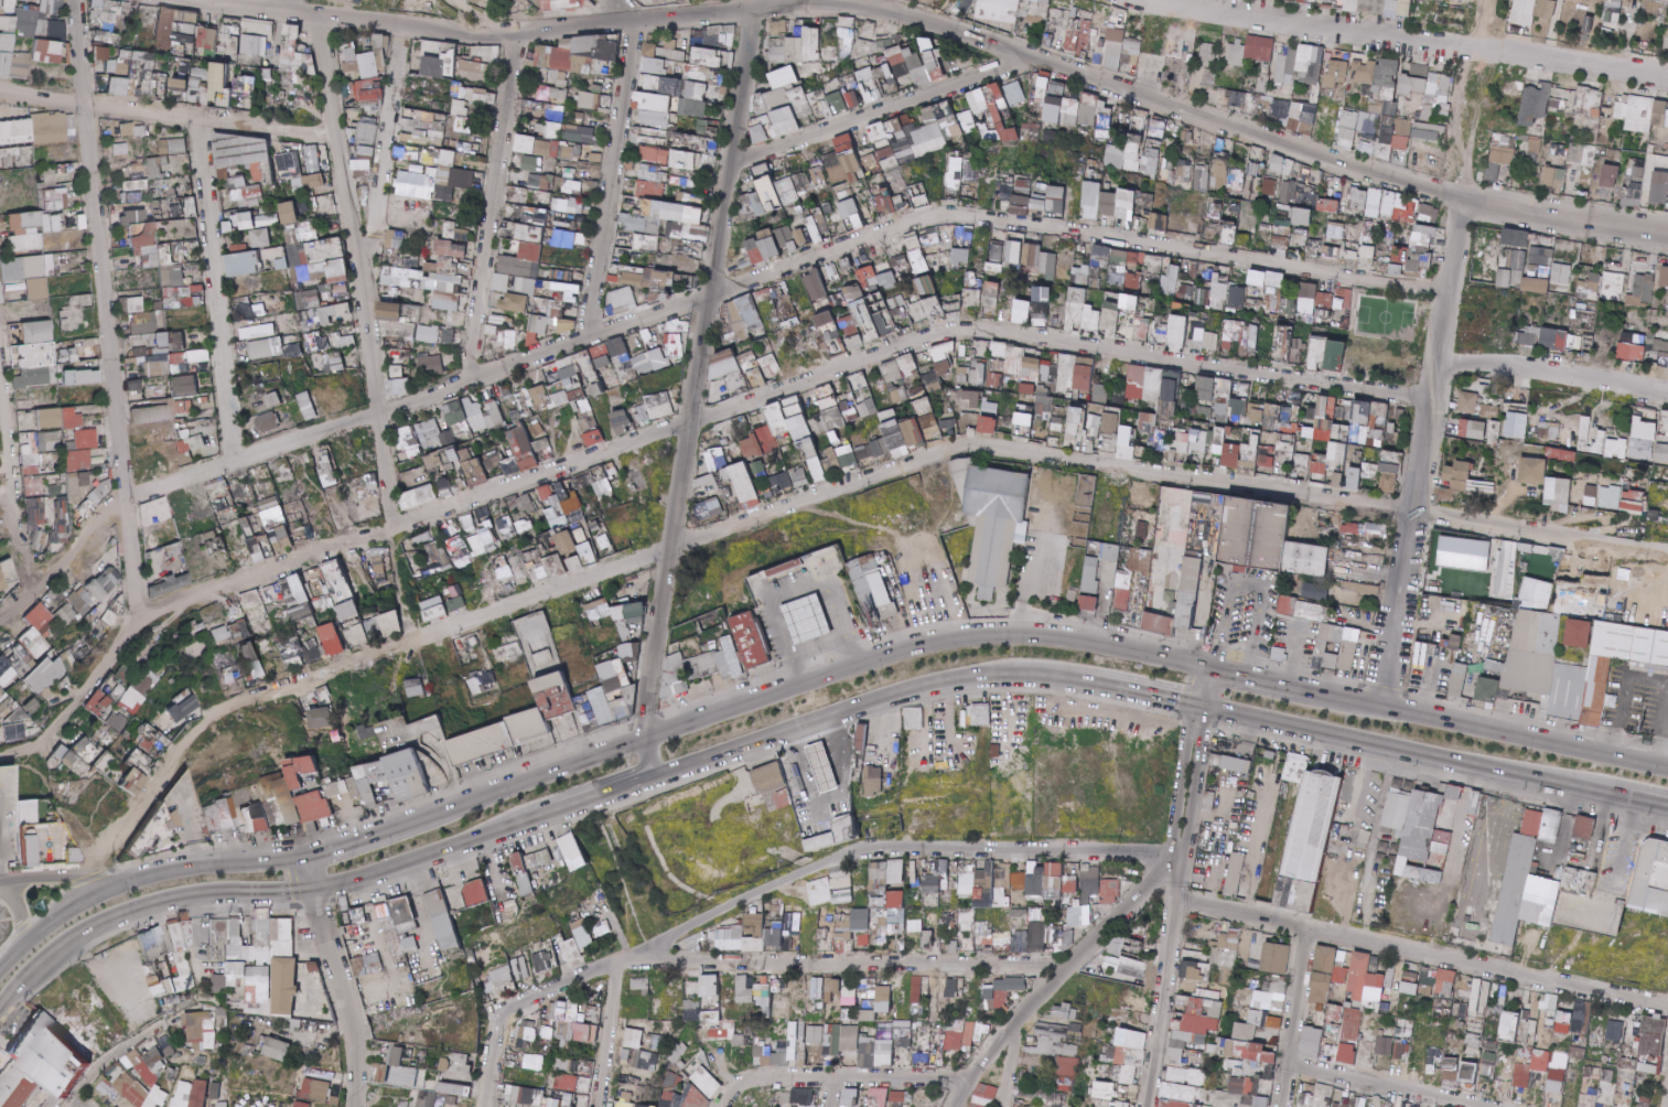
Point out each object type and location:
gas station: (814, 619)
gas station: (840, 763)
park: (982, 1086)

